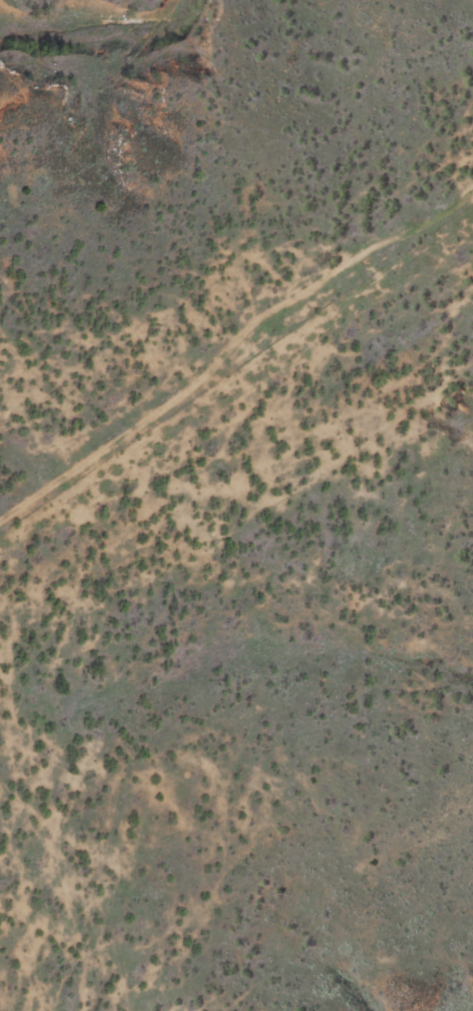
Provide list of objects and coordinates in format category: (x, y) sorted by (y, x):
road: (244, 333)

